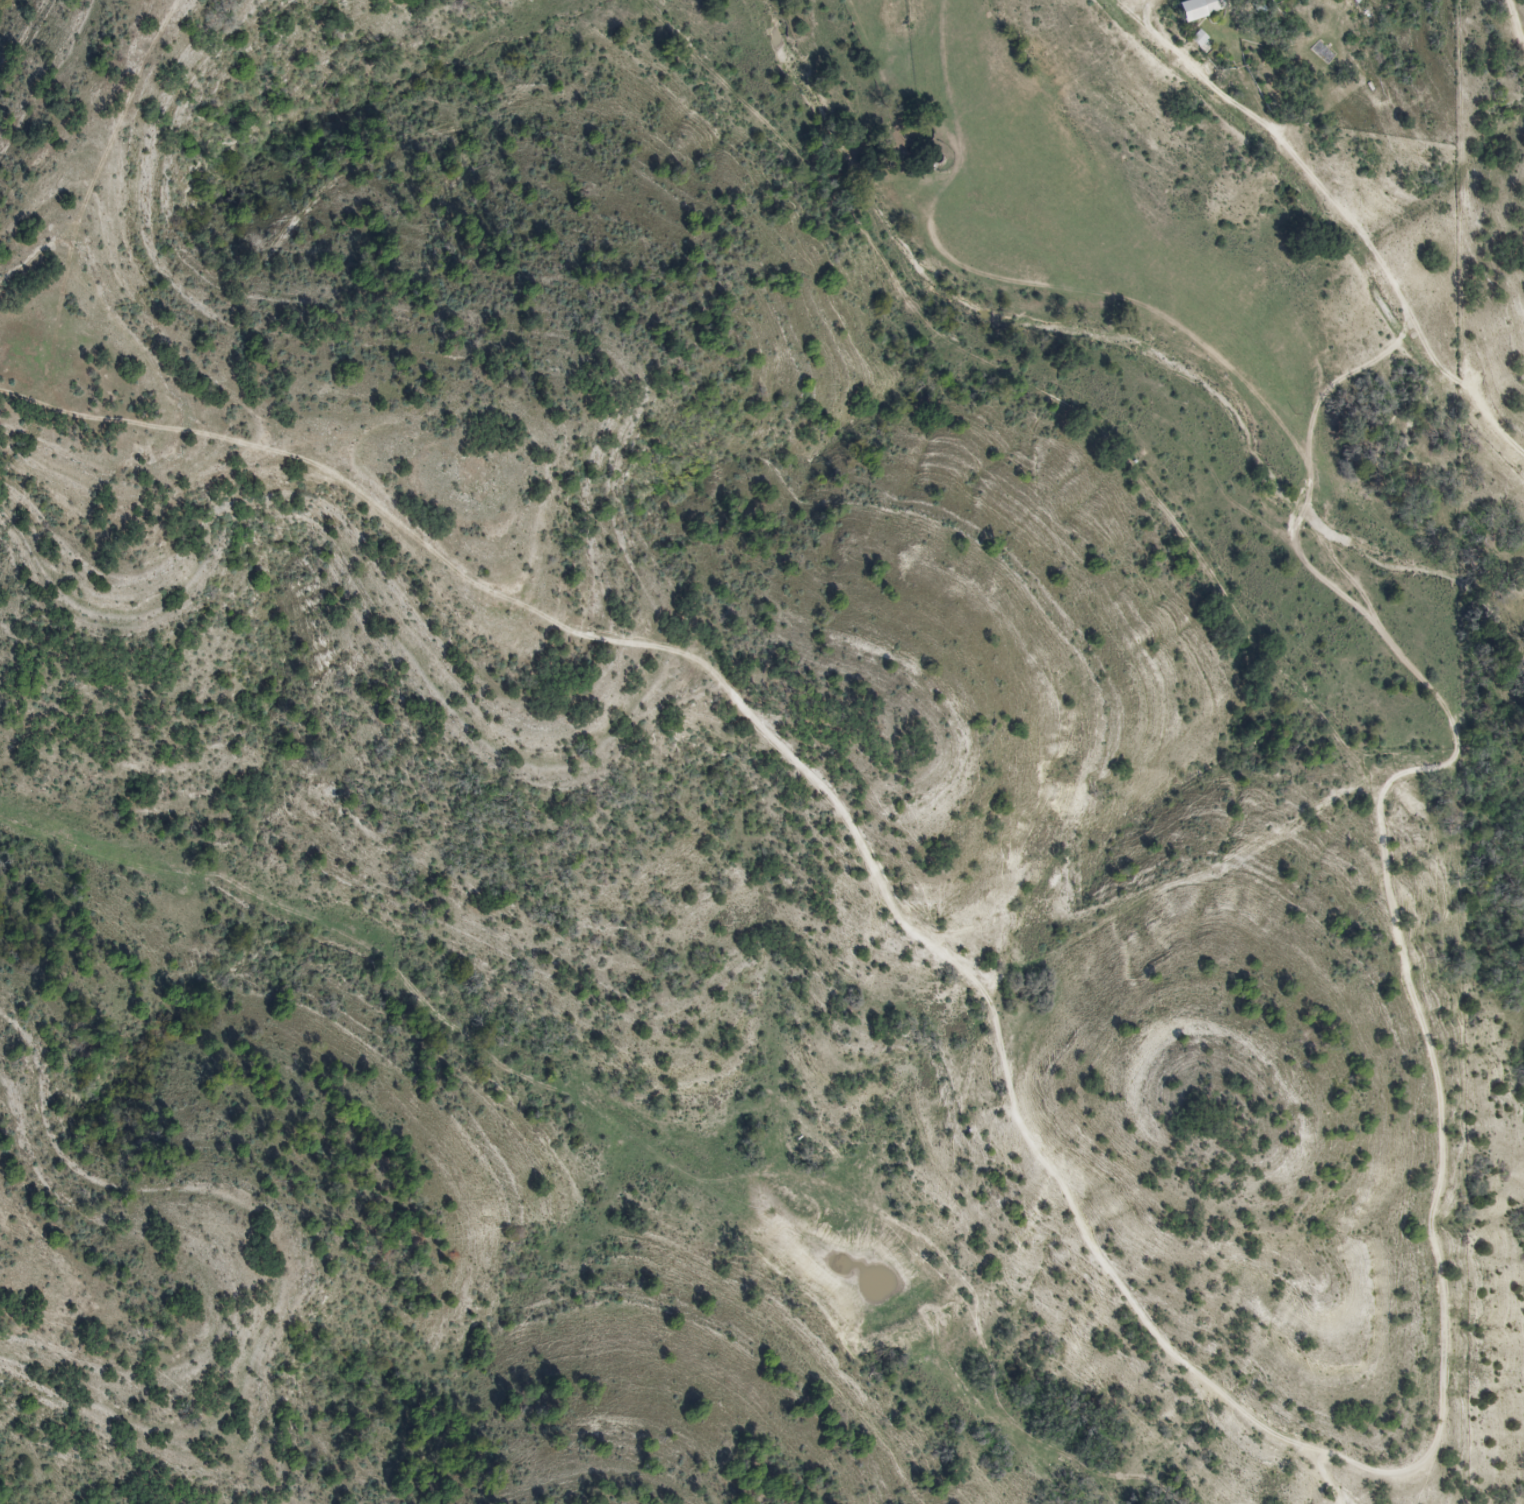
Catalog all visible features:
building: (1336, 0)
building: (1353, 1)
building: (1195, 8)
road: (1351, 210)

